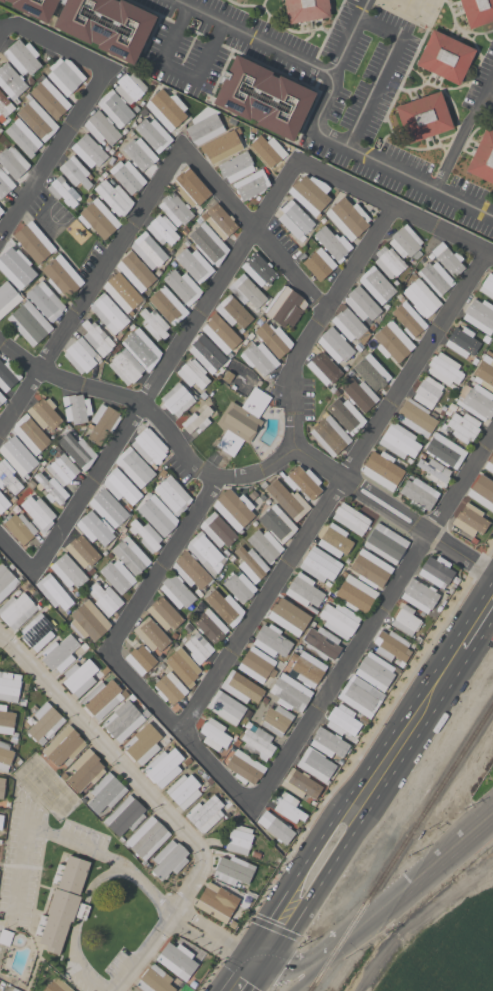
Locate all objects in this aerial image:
building: (1, 1)
road: (243, 5)
building: (35, 8)
building: (304, 10)
road: (150, 11)
building: (476, 11)
road: (399, 14)
road: (266, 18)
building: (106, 25)
road: (286, 28)
road: (460, 29)
road: (325, 32)
road: (197, 33)
road: (151, 34)
road: (252, 36)
road: (308, 36)
road: (473, 36)
road: (485, 38)
road: (51, 42)
road: (226, 47)
building: (22, 57)
building: (445, 57)
road: (411, 58)
road: (267, 61)
road: (177, 69)
road: (475, 69)
road: (274, 70)
road: (382, 71)
building: (64, 75)
building: (10, 80)
road: (316, 85)
building: (129, 87)
road: (488, 95)
building: (262, 97)
building: (50, 98)
building: (5, 106)
building: (115, 108)
building: (165, 109)
building: (423, 117)
building: (36, 119)
building: (204, 126)
building: (102, 128)
road: (454, 132)
road: (461, 132)
building: (153, 134)
road: (470, 136)
building: (23, 137)
road: (445, 137)
road: (340, 145)
road: (379, 145)
building: (219, 146)
road: (447, 147)
road: (51, 150)
building: (266, 150)
building: (88, 151)
building: (139, 154)
building: (483, 157)
road: (439, 161)
building: (12, 162)
road: (167, 166)
building: (236, 166)
building: (75, 172)
building: (127, 176)
building: (4, 184)
building: (251, 184)
building: (188, 190)
building: (63, 191)
building: (114, 198)
building: (307, 198)
road: (394, 206)
building: (175, 209)
building: (1, 210)
road: (492, 216)
building: (98, 218)
building: (347, 218)
building: (218, 220)
building: (295, 220)
building: (405, 241)
building: (33, 242)
building: (143, 243)
building: (208, 243)
building: (332, 243)
road: (358, 257)
building: (447, 258)
building: (389, 261)
building: (194, 264)
building: (319, 264)
building: (15, 267)
building: (258, 269)
building: (135, 271)
building: (62, 275)
building: (436, 278)
road: (217, 280)
building: (376, 285)
building: (487, 286)
building: (182, 287)
building: (246, 291)
building: (121, 293)
building: (6, 294)
building: (420, 297)
building: (45, 300)
building: (361, 303)
building: (167, 305)
building: (286, 307)
building: (233, 312)
building: (108, 313)
building: (406, 315)
building: (480, 315)
building: (29, 322)
building: (154, 324)
building: (348, 324)
building: (220, 334)
building: (95, 336)
building: (273, 339)
building: (392, 342)
building: (462, 342)
building: (335, 345)
building: (141, 348)
building: (206, 354)
building: (81, 355)
road: (18, 356)
building: (259, 358)
road: (414, 364)
building: (125, 367)
building: (323, 368)
building: (445, 370)
building: (372, 372)
building: (485, 372)
building: (192, 373)
road: (296, 374)
building: (8, 376)
road: (88, 387)
building: (427, 392)
building: (359, 394)
building: (2, 398)
building: (177, 399)
road: (18, 400)
building: (475, 400)
building: (75, 408)
building: (44, 413)
building: (346, 415)
building: (415, 417)
building: (196, 420)
building: (241, 421)
building: (102, 423)
building: (463, 426)
building: (29, 434)
building: (329, 434)
building: (399, 441)
building: (149, 447)
building: (76, 450)
building: (444, 450)
building: (17, 455)
road: (311, 459)
building: (489, 464)
building: (133, 467)
building: (62, 469)
building: (381, 469)
building: (433, 470)
building: (8, 477)
building: (303, 482)
building: (121, 486)
building: (52, 489)
road: (86, 489)
building: (482, 492)
building: (418, 494)
building: (172, 495)
building: (287, 499)
building: (3, 503)
building: (233, 508)
building: (107, 509)
building: (38, 513)
building: (155, 515)
building: (350, 518)
building: (470, 520)
building: (277, 523)
building: (20, 528)
building: (95, 528)
building: (218, 530)
building: (145, 535)
building: (334, 540)
building: (385, 543)
building: (264, 545)
building: (82, 551)
building: (205, 553)
building: (129, 555)
road: (15, 558)
building: (251, 562)
building: (319, 564)
road: (160, 566)
building: (370, 568)
building: (190, 570)
building: (68, 571)
building: (436, 571)
building: (117, 576)
building: (6, 582)
building: (239, 587)
building: (304, 590)
building: (53, 591)
building: (176, 591)
building: (354, 593)
building: (419, 595)
building: (104, 598)
road: (261, 604)
building: (224, 607)
building: (17, 610)
building: (164, 613)
building: (285, 619)
building: (338, 619)
building: (406, 620)
building: (89, 621)
building: (210, 626)
building: (37, 631)
building: (150, 634)
road: (481, 636)
building: (271, 640)
building: (322, 643)
building: (392, 646)
building: (198, 647)
building: (59, 654)
building: (140, 659)
building: (183, 665)
building: (257, 665)
building: (308, 668)
building: (375, 671)
building: (79, 677)
building: (9, 686)
building: (168, 687)
building: (241, 687)
building: (290, 692)
building: (360, 696)
building: (101, 699)
road: (314, 705)
building: (225, 707)
building: (123, 720)
building: (276, 720)
building: (342, 720)
building: (6, 721)
building: (44, 722)
building: (214, 734)
building: (258, 743)
building: (328, 743)
building: (142, 744)
building: (63, 746)
road: (101, 748)
building: (5, 756)
building: (315, 764)
road: (366, 764)
building: (164, 767)
building: (244, 767)
road: (346, 768)
building: (85, 770)
building: (300, 784)
building: (2, 786)
building: (184, 791)
building: (105, 792)
building: (288, 806)
road: (367, 810)
building: (205, 813)
building: (125, 816)
building: (1, 821)
railway: (414, 824)
building: (275, 827)
road: (36, 828)
building: (146, 838)
building: (239, 839)
building: (168, 859)
building: (233, 870)
road: (414, 880)
road: (87, 896)
building: (216, 902)
building: (63, 903)
road: (161, 926)
road: (207, 933)
building: (5, 937)
crop: (441, 940)
traffic signals: (242, 954)
building: (177, 960)
road: (254, 960)
road: (302, 965)
traffic signals: (266, 966)
road: (312, 969)
railway: (320, 969)
road: (228, 972)
road: (257, 978)
building: (154, 980)
building: (57, 985)

